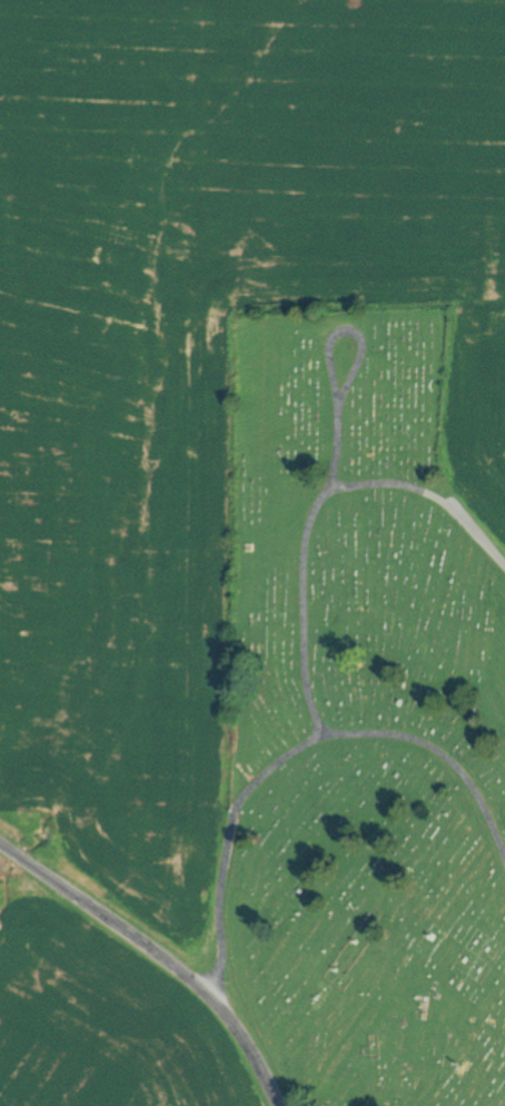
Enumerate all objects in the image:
road: (158, 955)

